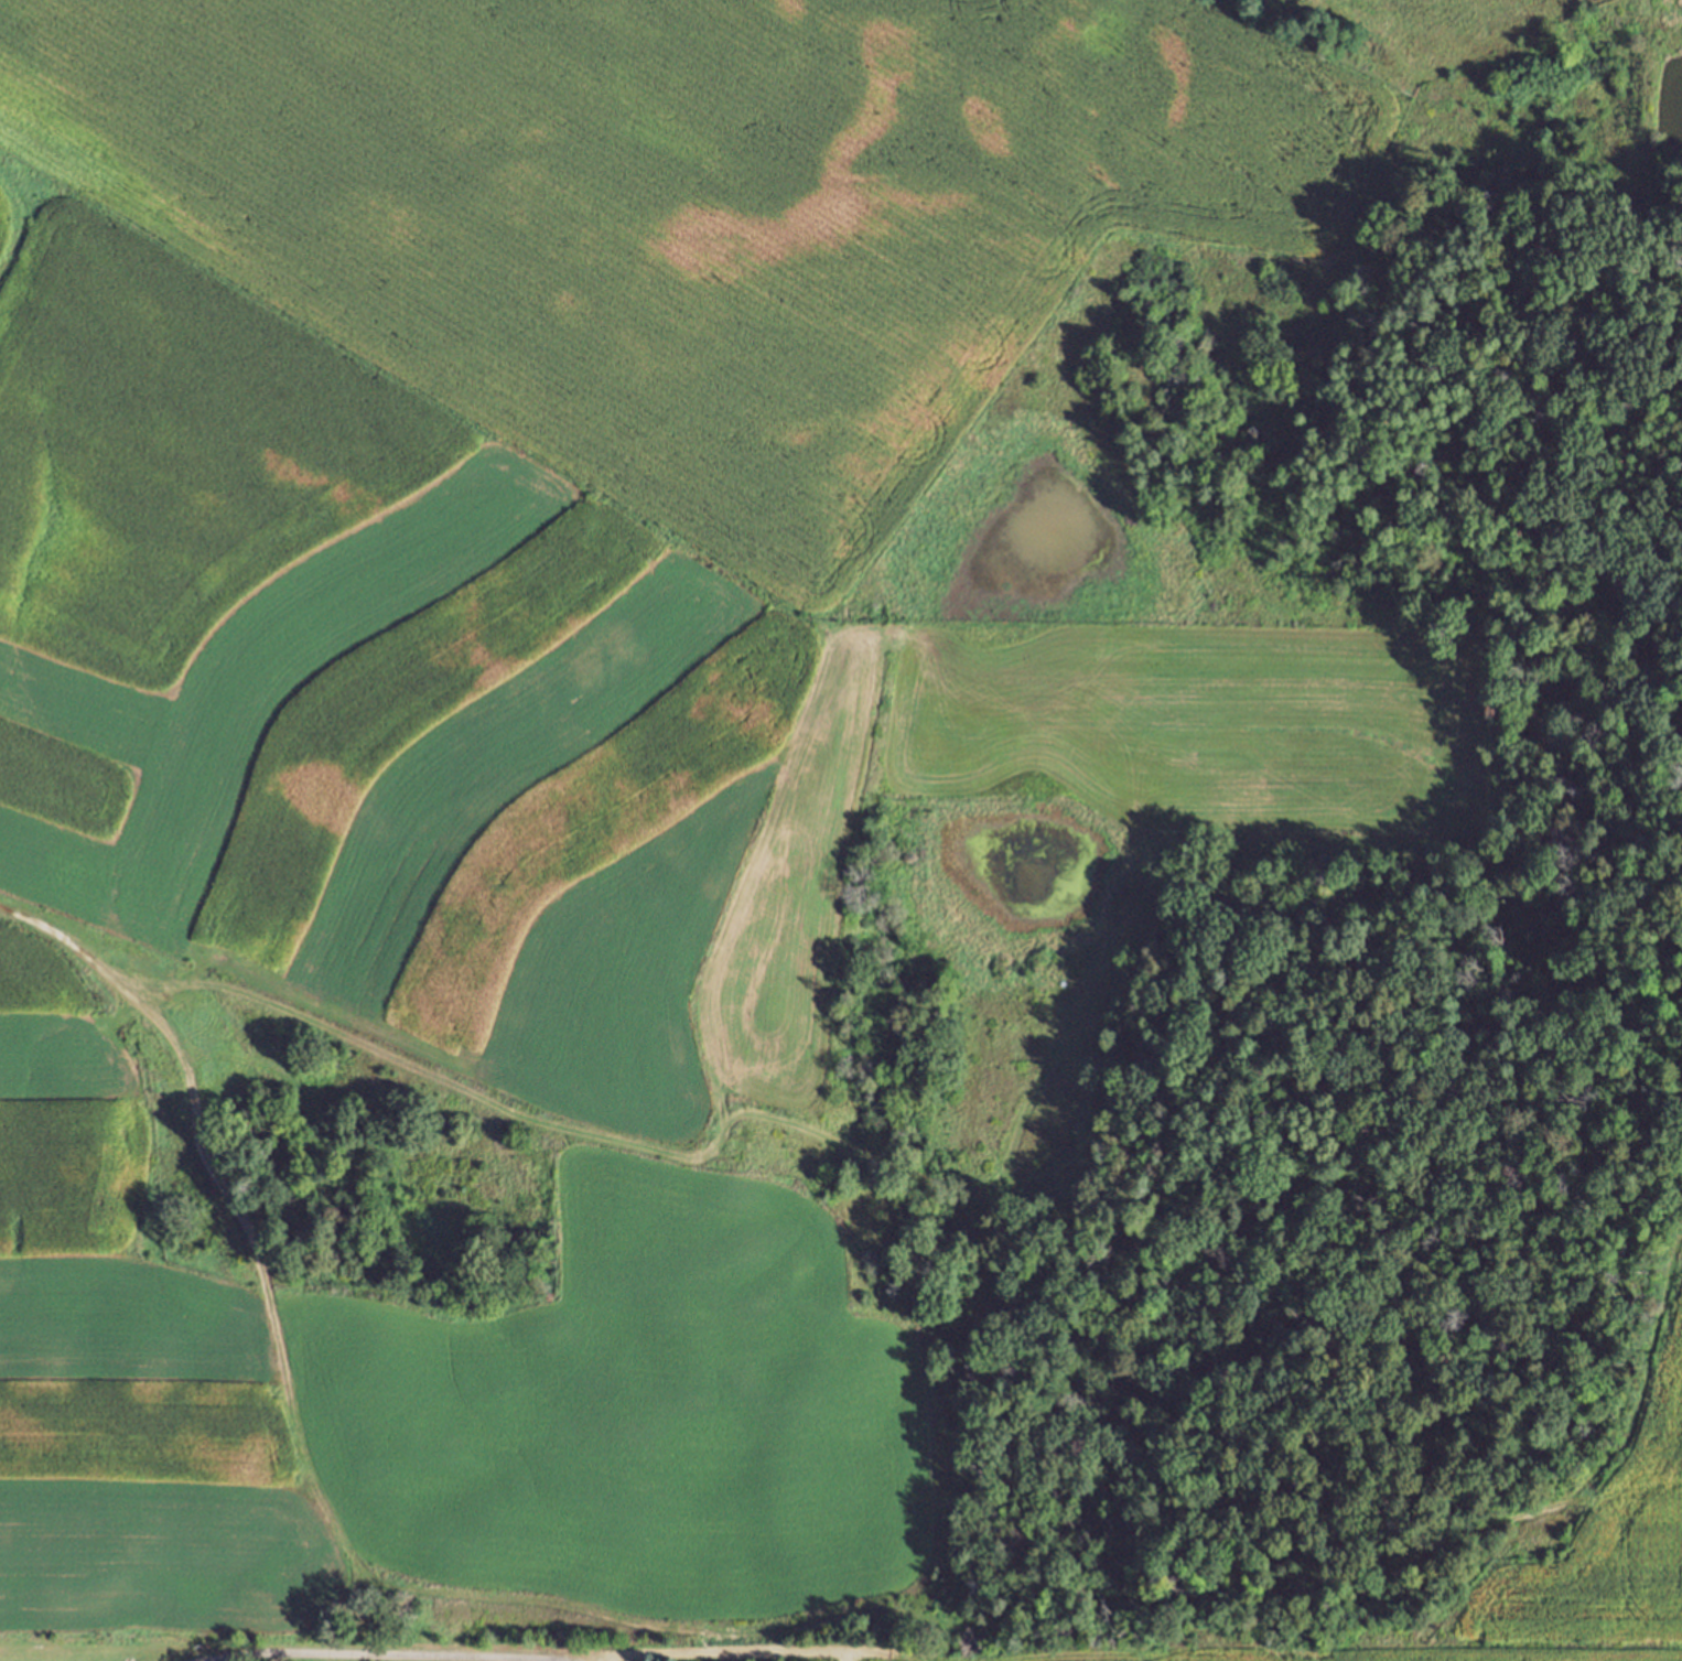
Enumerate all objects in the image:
road: (726, 1650)
road: (373, 1655)

